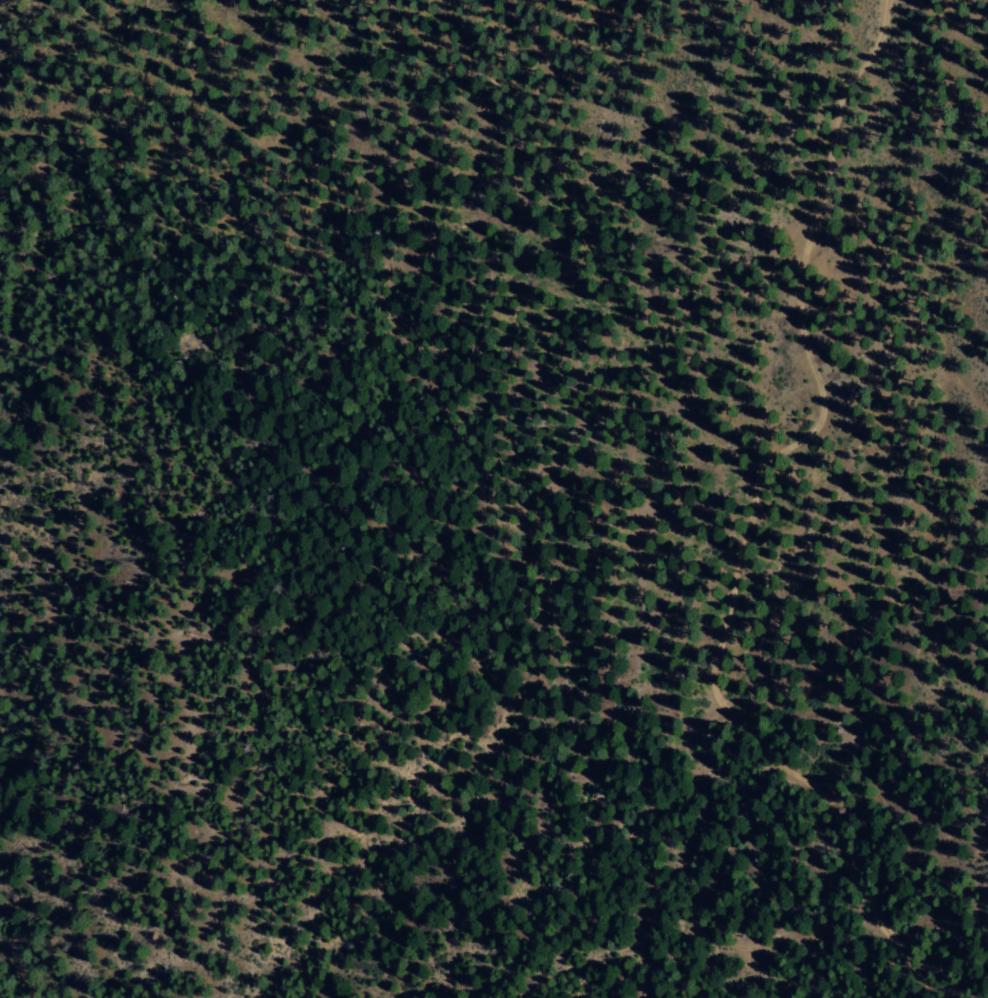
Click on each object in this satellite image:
road: (756, 523)

